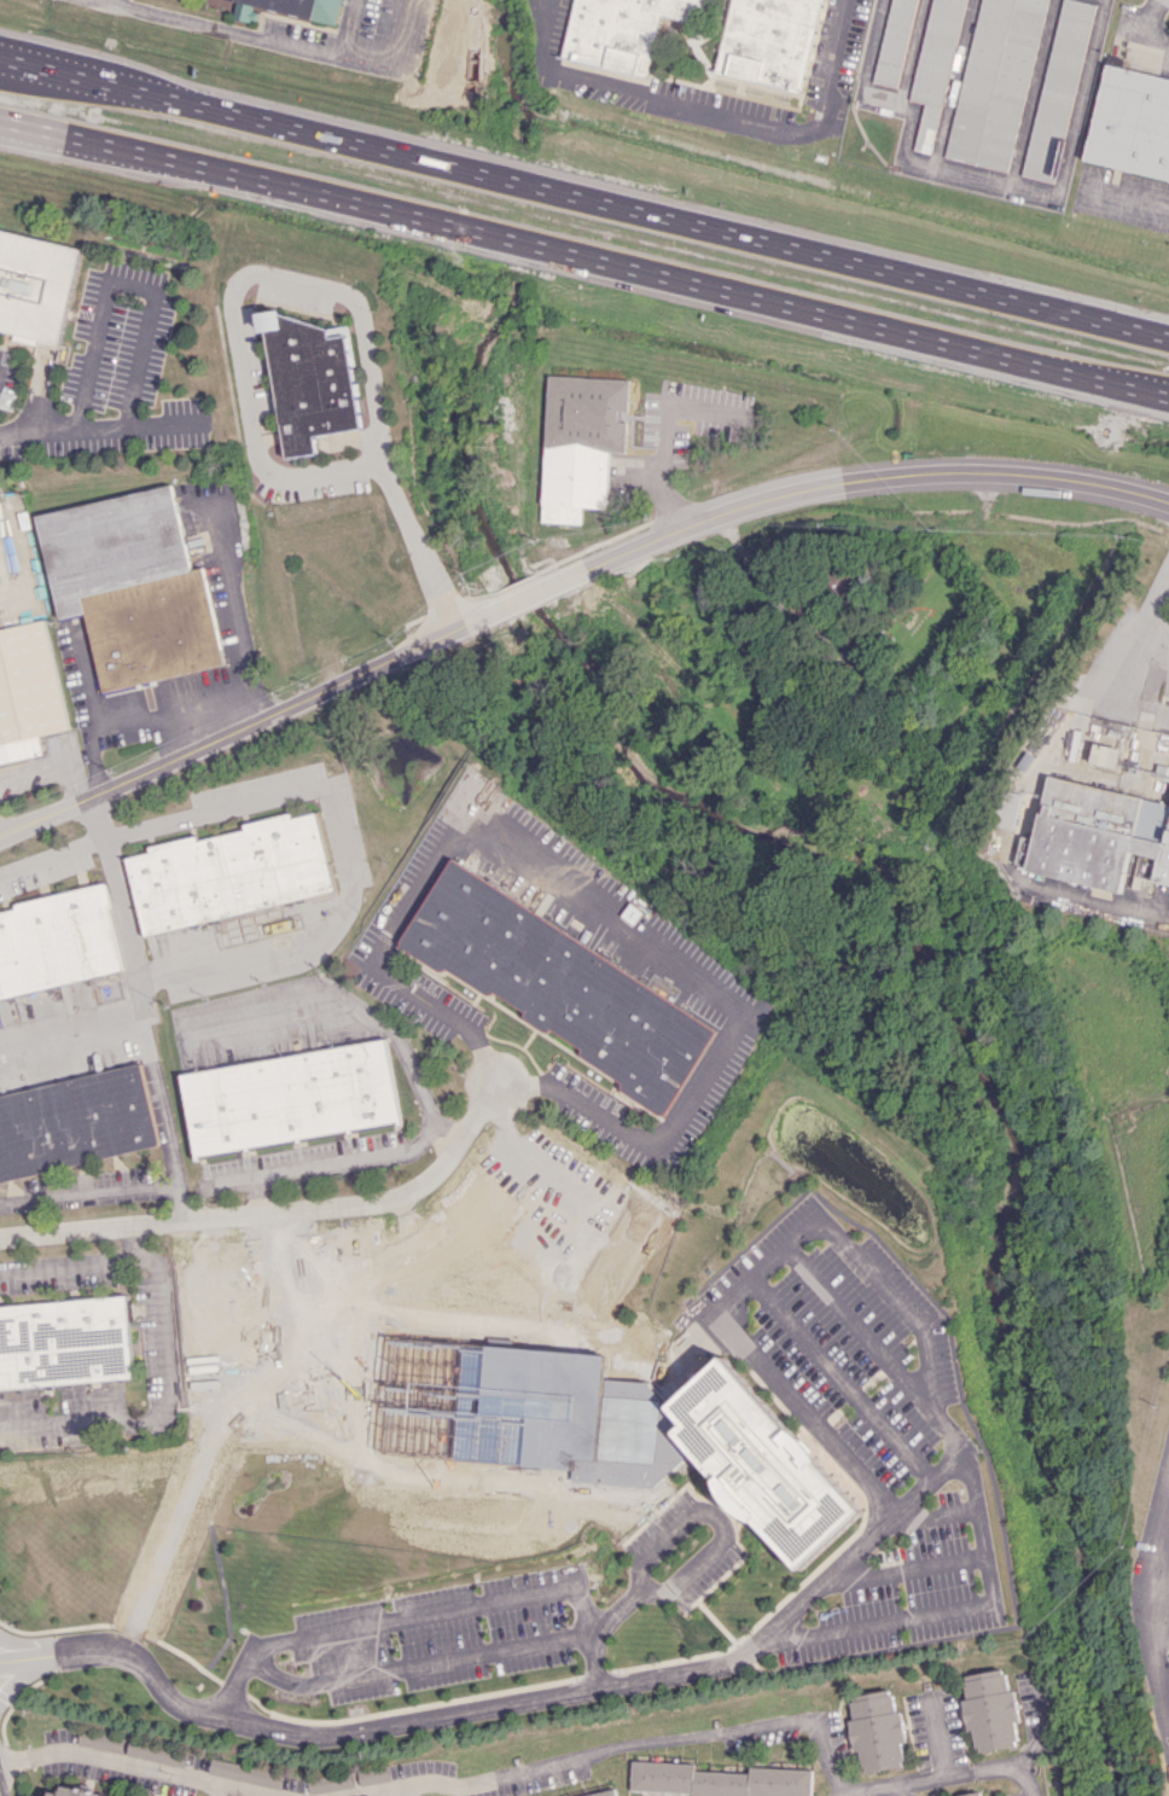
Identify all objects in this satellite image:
building: (306, 6)
building: (248, 12)
road: (348, 25)
road: (1152, 25)
building: (623, 30)
road: (281, 39)
building: (770, 41)
building: (895, 41)
building: (936, 68)
building: (995, 82)
building: (1057, 89)
road: (714, 111)
building: (1130, 123)
road: (979, 176)
road: (584, 193)
road: (1124, 196)
road: (583, 262)
road: (122, 283)
building: (35, 285)
road: (310, 285)
building: (310, 379)
road: (95, 426)
road: (663, 435)
building: (581, 443)
road: (866, 476)
building: (130, 586)
road: (1158, 588)
road: (530, 591)
road: (1158, 616)
road: (1129, 653)
road: (1106, 682)
building: (27, 691)
road: (229, 693)
road: (250, 703)
road: (243, 723)
building: (1106, 755)
road: (51, 765)
road: (328, 791)
building: (1007, 808)
building: (1098, 833)
road: (1007, 861)
building: (231, 872)
road: (121, 903)
road: (606, 920)
building: (56, 943)
building: (564, 987)
road: (364, 1016)
road: (143, 1051)
building: (289, 1097)
building: (74, 1123)
road: (312, 1166)
road: (477, 1169)
road: (88, 1195)
road: (254, 1195)
road: (279, 1210)
road: (141, 1239)
building: (511, 1246)
road: (850, 1246)
building: (291, 1315)
building: (63, 1342)
road: (163, 1342)
road: (842, 1378)
building: (762, 1463)
road: (929, 1478)
road: (425, 1612)
road: (1156, 1617)
road: (492, 1651)
building: (991, 1710)
road: (379, 1725)
road: (1046, 1727)
building: (877, 1730)
road: (612, 1745)
road: (150, 1765)
building: (245, 1773)
road: (942, 1775)
building: (717, 1780)
road: (223, 1788)
road: (909, 1788)
road: (399, 1791)
building: (75, 1792)
building: (603, 1792)
road: (837, 1794)
building: (970, 1794)

